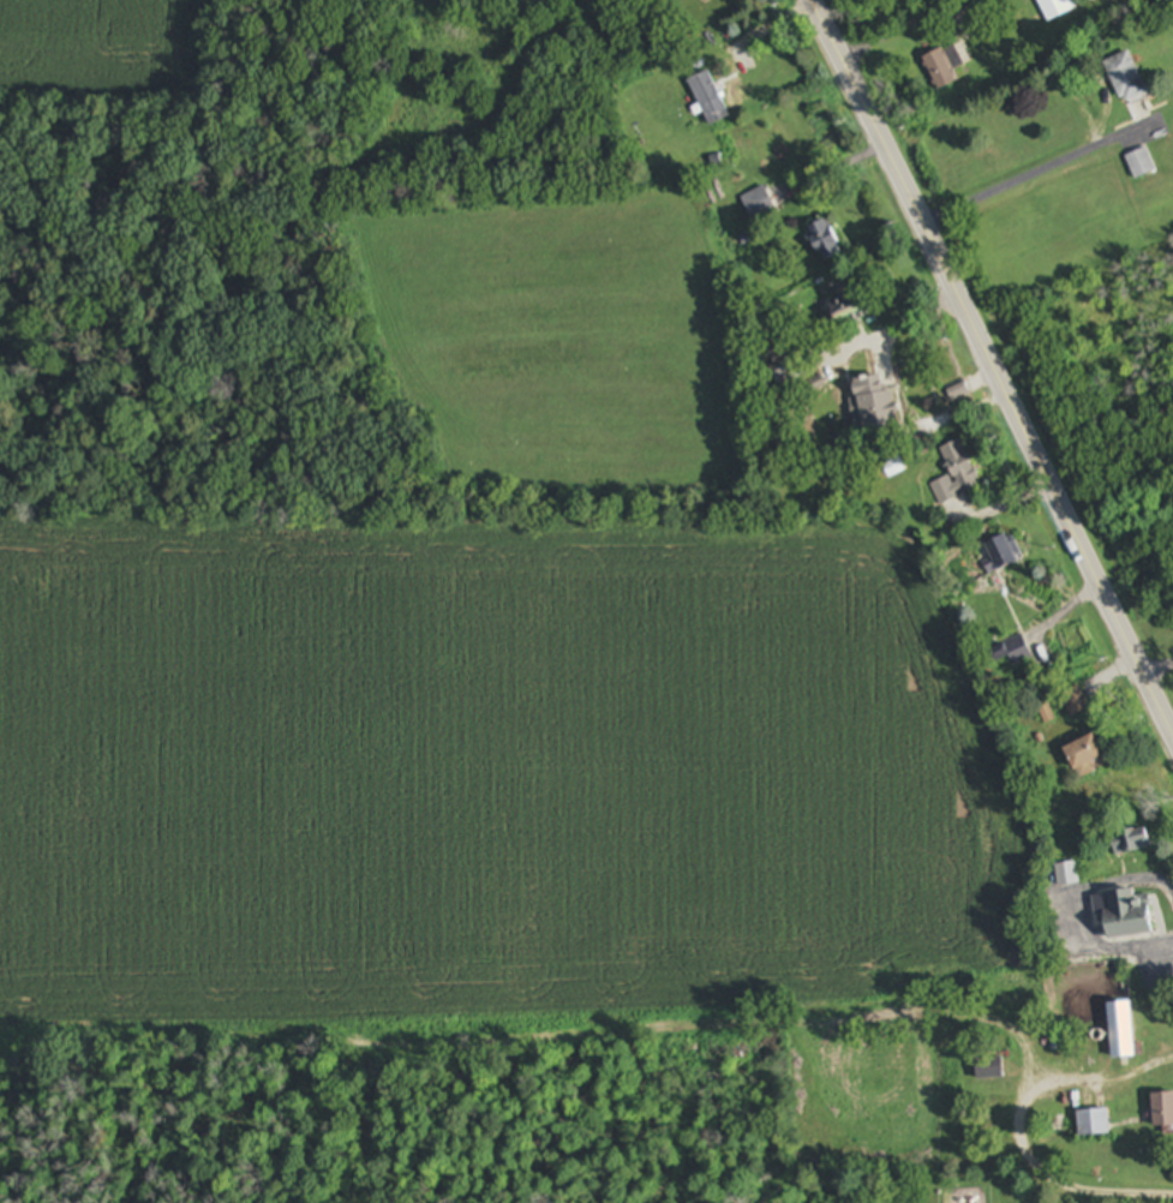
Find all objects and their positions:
building: (1091, 0)
building: (1058, 7)
road: (902, 25)
road: (759, 29)
building: (944, 67)
building: (1126, 79)
building: (708, 100)
building: (1141, 164)
road: (1031, 172)
building: (754, 204)
building: (825, 243)
building: (854, 310)
road: (893, 323)
road: (992, 369)
building: (878, 405)
building: (956, 475)
building: (1011, 653)
road: (1157, 668)
building: (1075, 702)
building: (1087, 756)
building: (1131, 842)
building: (1065, 876)
road: (1075, 914)
building: (1126, 915)
building: (1123, 1033)
building: (991, 1070)
building: (1163, 1111)
building: (1094, 1123)
road: (1019, 1131)

